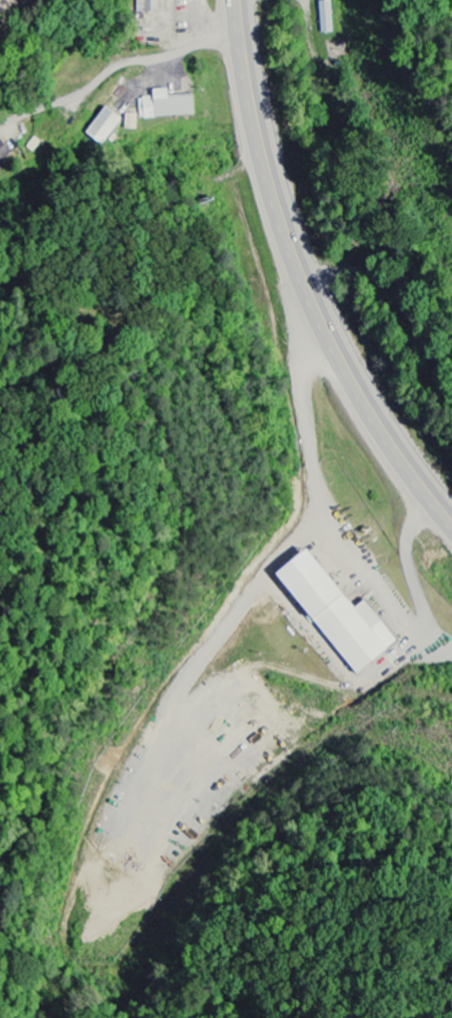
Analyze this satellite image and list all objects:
building: (146, 6)
building: (324, 17)
road: (116, 64)
building: (165, 106)
building: (103, 127)
building: (3, 152)
road: (305, 276)
building: (333, 615)

